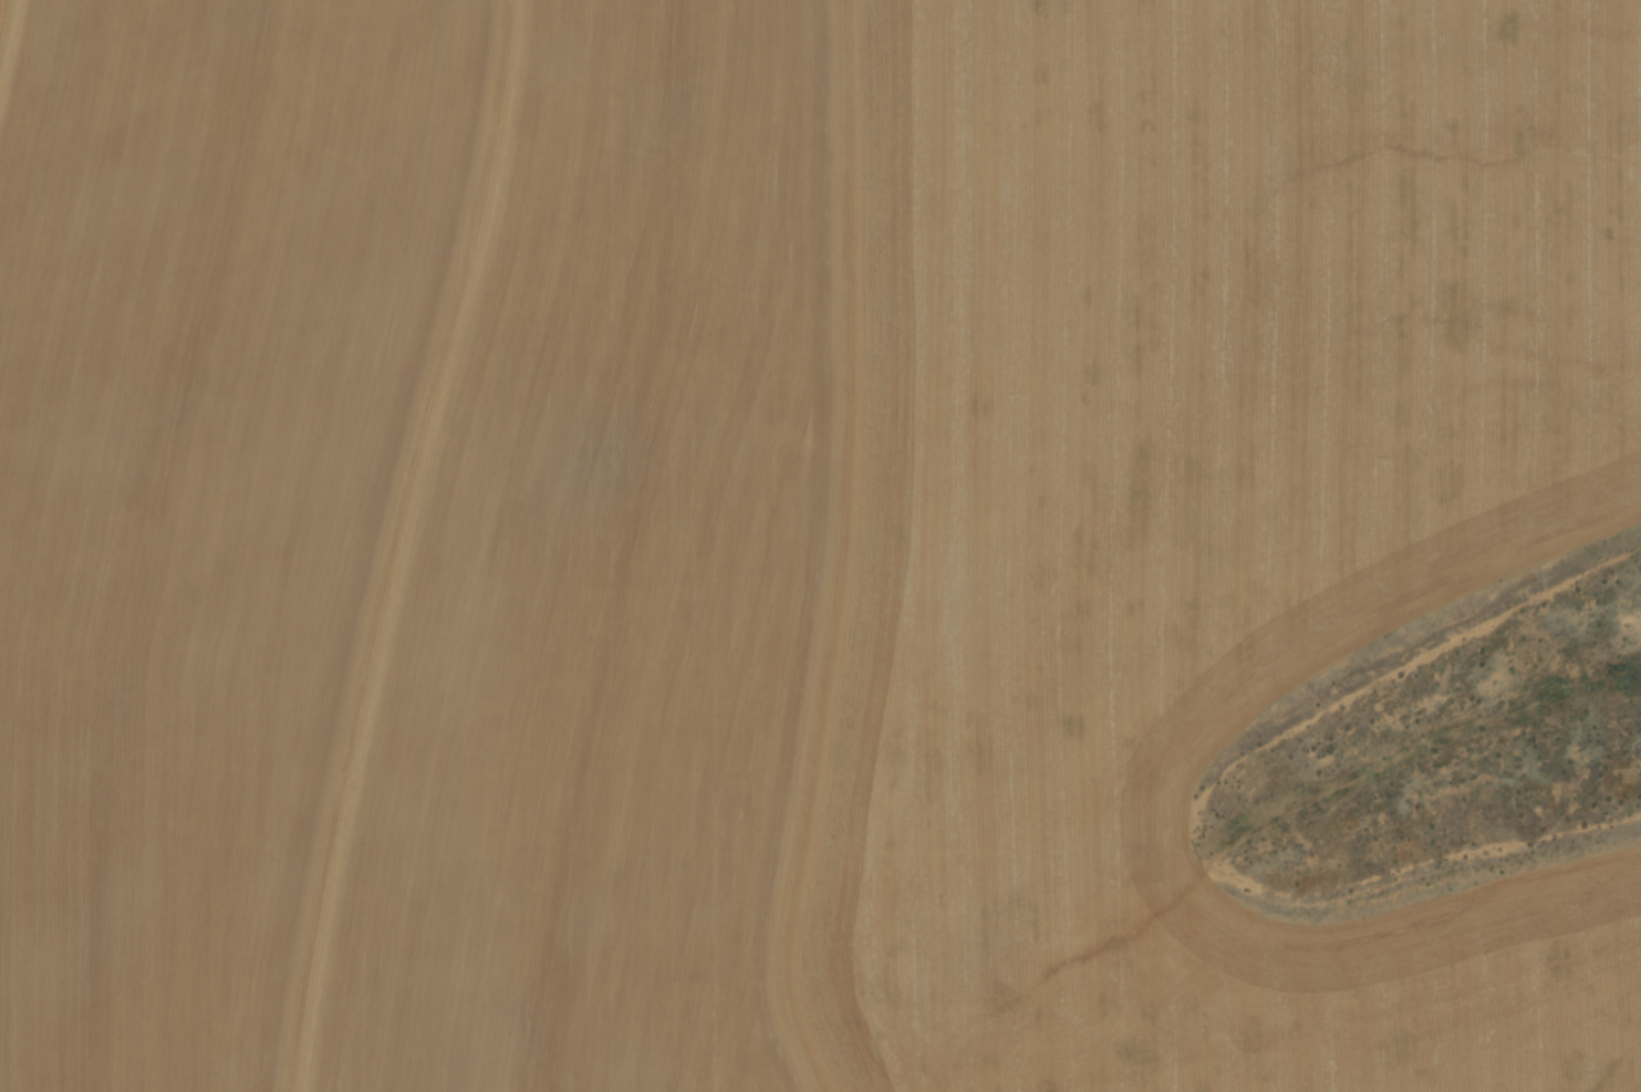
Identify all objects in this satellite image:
crop: (820, 545)

